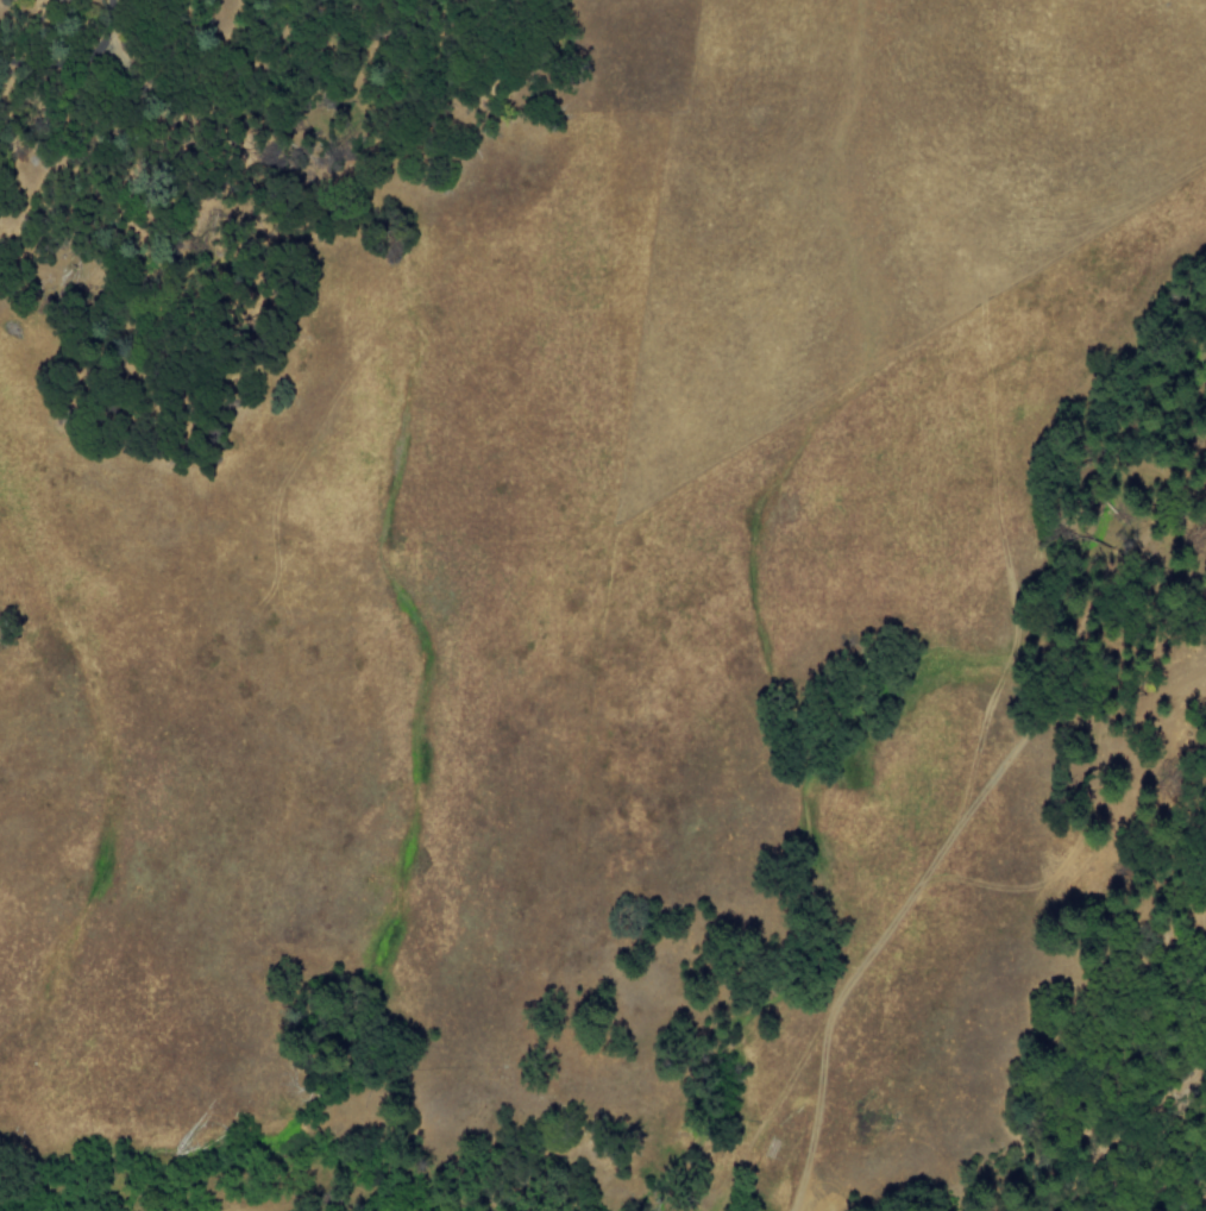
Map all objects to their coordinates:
road: (76, 61)

